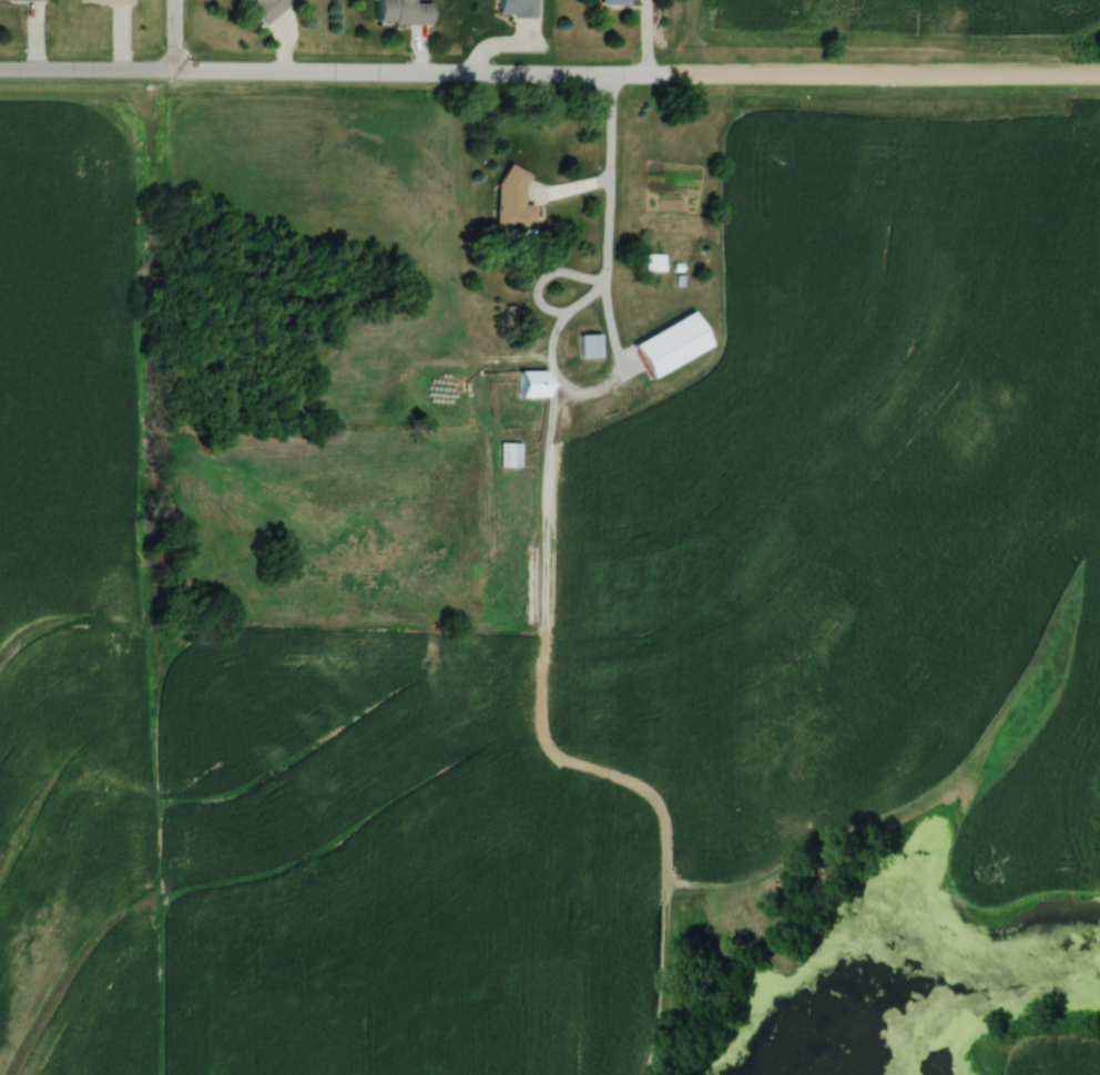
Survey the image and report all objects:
building: (22, 0)
building: (106, 1)
building: (615, 2)
building: (268, 8)
building: (515, 8)
building: (404, 12)
road: (172, 34)
road: (678, 37)
road: (337, 71)
road: (887, 73)
road: (609, 154)
building: (512, 202)
building: (671, 342)
building: (587, 347)
building: (533, 386)
building: (510, 455)

